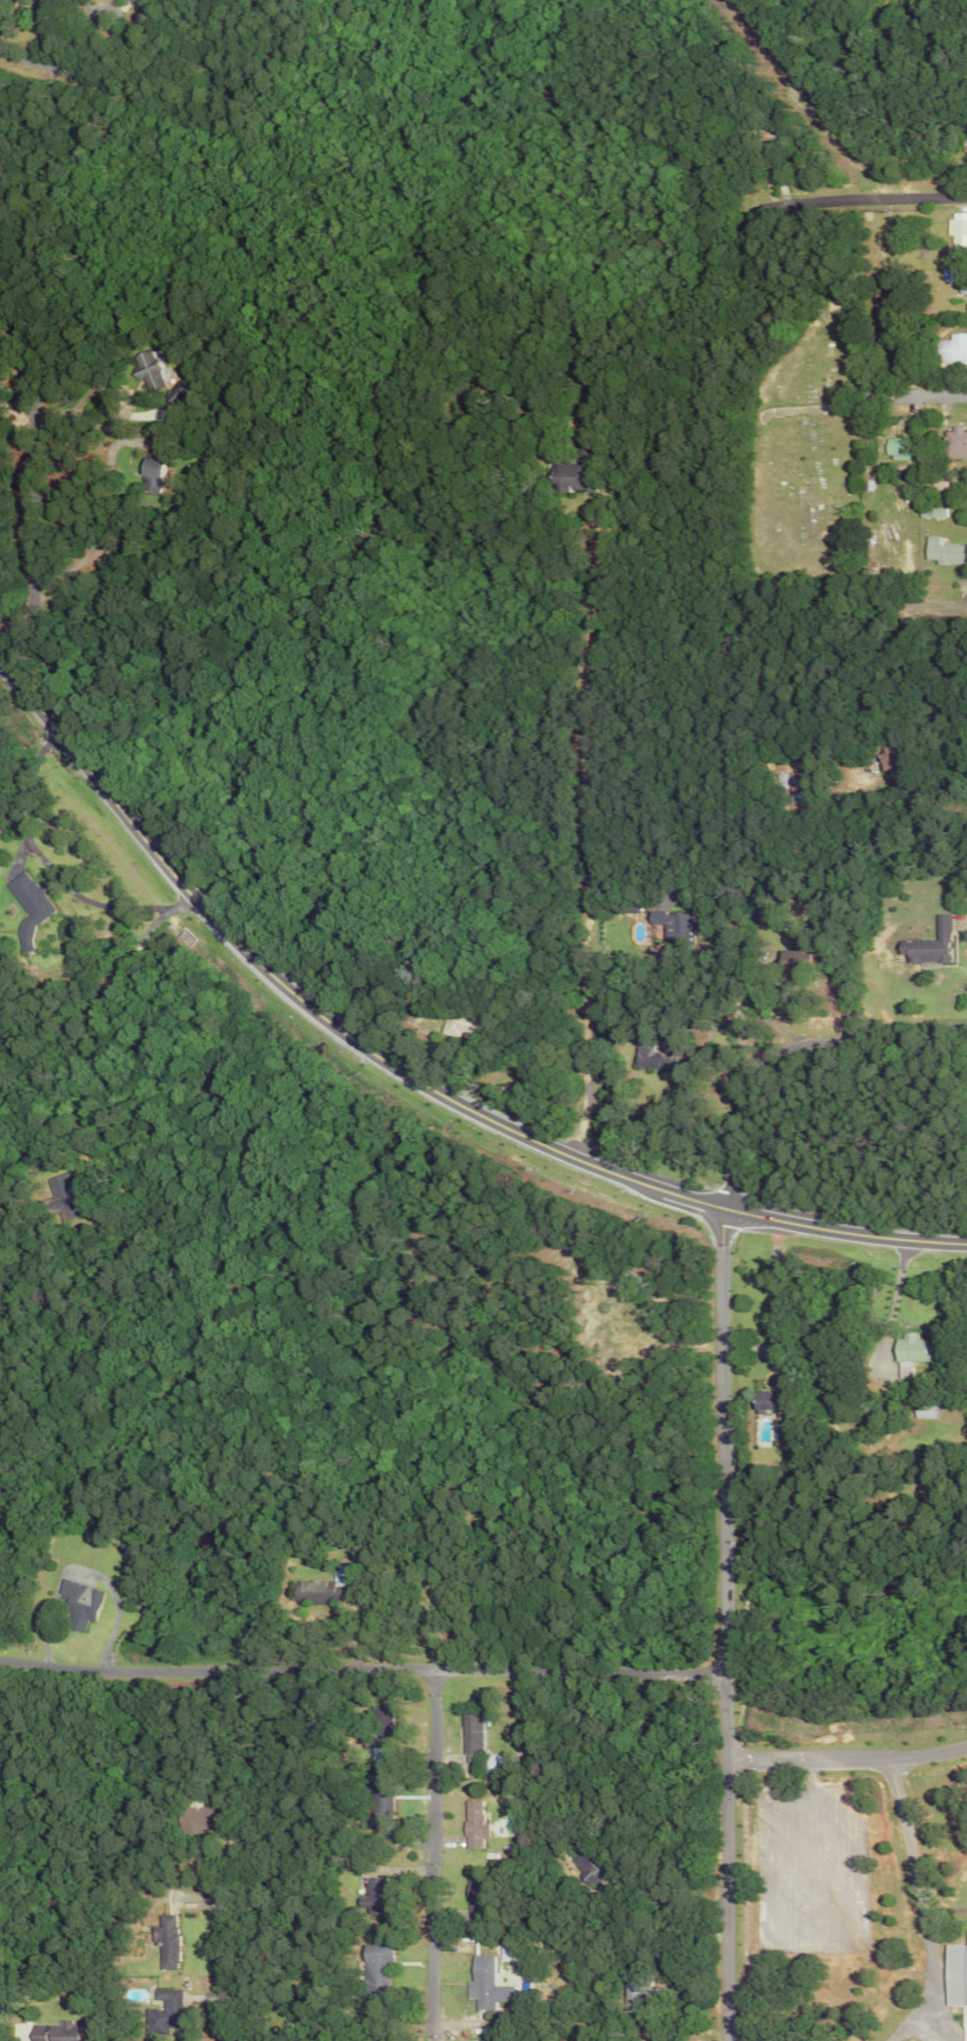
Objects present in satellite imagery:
road: (40, 32)
road: (27, 61)
road: (931, 196)
road: (839, 198)
building: (956, 229)
building: (950, 348)
building: (149, 372)
building: (178, 392)
road: (859, 400)
park: (800, 443)
building: (953, 443)
building: (895, 448)
building: (158, 475)
building: (572, 477)
building: (929, 512)
road: (115, 541)
building: (941, 552)
road: (923, 674)
building: (882, 758)
building: (33, 897)
building: (669, 923)
building: (925, 941)
road: (581, 996)
road: (98, 1027)
road: (897, 1031)
building: (656, 1057)
road: (411, 1071)
road: (754, 1105)
building: (66, 1197)
road: (895, 1297)
building: (911, 1348)
building: (904, 1368)
building: (766, 1400)
building: (922, 1410)
building: (311, 1589)
building: (79, 1604)
road: (727, 1625)
road: (364, 1676)
building: (379, 1724)
building: (466, 1735)
road: (848, 1761)
building: (382, 1808)
building: (470, 1825)
road: (434, 1859)
building: (372, 1895)
road: (916, 1909)
building: (171, 1943)
building: (374, 1967)
building: (954, 1975)
road: (233, 1976)
building: (485, 1984)
building: (640, 1989)
building: (167, 1994)
building: (162, 2022)
building: (56, 2031)
road: (915, 2031)

